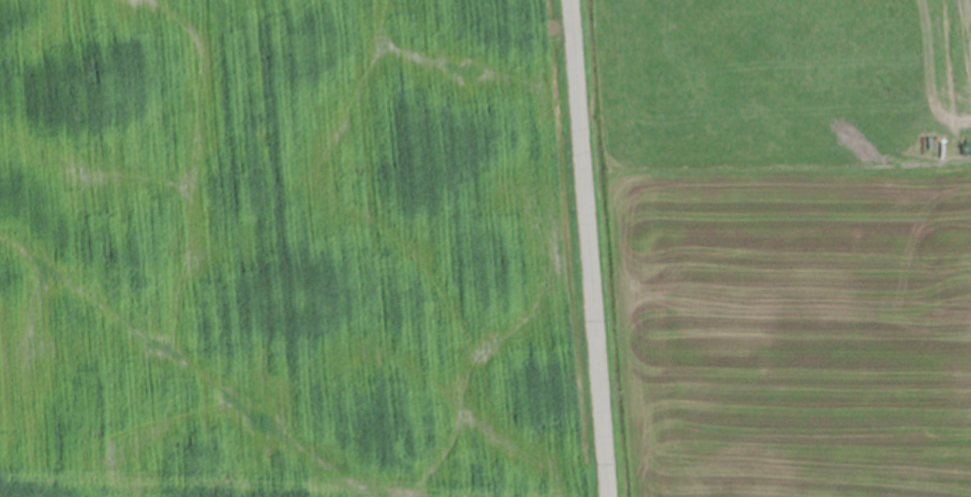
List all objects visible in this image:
road: (589, 248)

